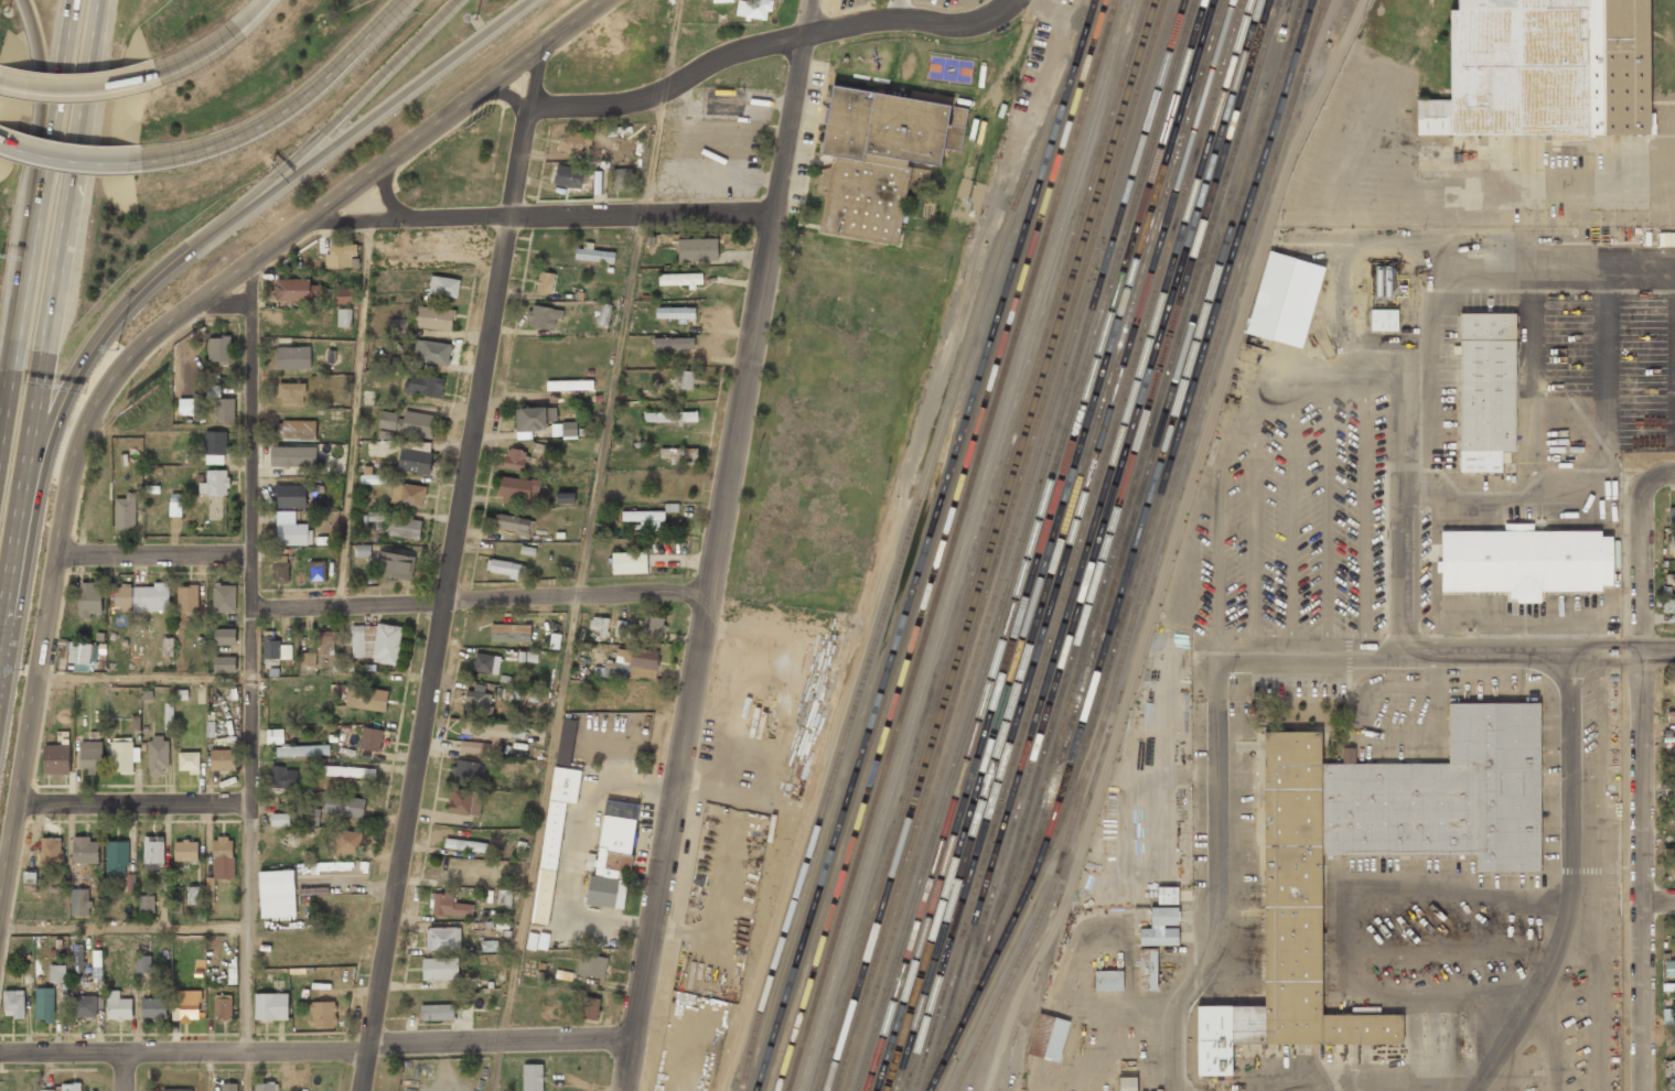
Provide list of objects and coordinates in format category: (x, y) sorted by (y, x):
building: (721, 0)
parking lot: (896, 4)
building: (754, 9)
road: (899, 9)
street lamp: (4, 11)
street lamp: (475, 19)
railway: (1319, 21)
road: (765, 42)
road: (217, 43)
road: (672, 44)
building: (1542, 68)
road: (79, 88)
road: (42, 96)
road: (56, 97)
road: (507, 97)
road: (287, 107)
railway: (1073, 111)
railway: (1082, 112)
road: (373, 117)
road: (337, 118)
building: (890, 127)
building: (573, 141)
road: (655, 151)
road: (68, 159)
road: (68, 175)
building: (570, 176)
building: (622, 179)
road: (384, 191)
building: (869, 195)
road: (589, 214)
road: (358, 216)
road: (278, 240)
building: (648, 240)
building: (697, 249)
building: (340, 255)
building: (594, 256)
building: (680, 279)
road: (250, 281)
building: (544, 281)
building: (1383, 281)
building: (443, 287)
building: (291, 290)
building: (578, 295)
building: (342, 300)
building: (1285, 300)
road: (223, 302)
building: (675, 313)
building: (603, 314)
building: (343, 317)
building: (433, 317)
building: (543, 317)
building: (1383, 320)
road: (20, 322)
building: (397, 327)
building: (673, 343)
building: (218, 349)
building: (432, 352)
building: (330, 356)
building: (292, 358)
road: (68, 380)
building: (684, 380)
building: (423, 385)
building: (569, 386)
building: (212, 390)
building: (1485, 390)
building: (291, 392)
road: (612, 404)
building: (192, 406)
road: (355, 409)
building: (224, 410)
building: (669, 415)
building: (387, 420)
building: (532, 420)
railway: (1182, 420)
building: (417, 424)
building: (297, 430)
building: (563, 430)
building: (385, 434)
building: (215, 446)
building: (678, 454)
building: (292, 456)
building: (124, 460)
building: (514, 460)
building: (414, 461)
road: (22, 465)
railway: (1137, 473)
road: (1650, 477)
building: (372, 478)
building: (214, 483)
building: (151, 489)
building: (516, 489)
railway: (1150, 490)
building: (407, 495)
building: (290, 496)
building: (565, 497)
building: (174, 505)
building: (670, 507)
building: (125, 512)
building: (376, 516)
building: (1671, 516)
building: (644, 518)
building: (515, 525)
building: (290, 528)
building: (404, 528)
building: (321, 540)
building: (1672, 540)
railway: (1020, 544)
railway: (1040, 544)
railway: (1050, 544)
railway: (1057, 544)
railway: (1069, 544)
railway: (1077, 544)
road: (721, 545)
railway: (924, 545)
railway: (962, 545)
railway: (971, 545)
railway: (981, 545)
railway: (990, 545)
railway: (1000, 545)
railway: (1009, 545)
railway: (1032, 545)
railway: (1087, 545)
railway: (1096, 545)
railway: (1105, 547)
building: (362, 550)
building: (526, 550)
road: (153, 551)
railway: (1153, 551)
building: (1525, 561)
building: (629, 562)
building: (394, 565)
road: (453, 566)
building: (506, 568)
building: (316, 571)
building: (279, 572)
building: (1669, 579)
road: (1, 591)
building: (122, 597)
building: (151, 597)
road: (483, 597)
building: (186, 598)
building: (223, 598)
building: (88, 599)
building: (1668, 605)
building: (599, 625)
building: (652, 627)
railway: (1099, 627)
building: (619, 628)
building: (509, 633)
building: (99, 636)
building: (223, 636)
building: (357, 640)
building: (554, 640)
building: (325, 642)
building: (386, 642)
building: (168, 647)
building: (275, 648)
road: (1658, 651)
road: (1572, 652)
building: (83, 655)
building: (509, 656)
building: (520, 656)
building: (532, 657)
railway: (909, 657)
railway: (917, 658)
building: (308, 659)
building: (486, 663)
building: (224, 665)
building: (630, 665)
building: (336, 667)
building: (368, 668)
building: (272, 672)
road: (251, 674)
road: (144, 678)
building: (504, 679)
building: (636, 692)
building: (233, 693)
building: (147, 694)
building: (182, 694)
building: (519, 694)
building: (365, 699)
building: (477, 703)
road: (1216, 704)
building: (168, 716)
building: (1671, 716)
building: (135, 723)
building: (228, 726)
building: (210, 730)
building: (485, 730)
building: (275, 736)
building: (372, 738)
building: (224, 739)
road: (30, 747)
building: (476, 747)
building: (301, 750)
building: (90, 756)
building: (157, 756)
building: (1674, 756)
building: (122, 757)
building: (55, 759)
building: (222, 759)
building: (189, 761)
building: (347, 771)
building: (466, 771)
building: (281, 778)
building: (1673, 792)
road: (1643, 796)
building: (463, 801)
road: (136, 802)
building: (343, 807)
building: (309, 815)
road: (540, 818)
building: (279, 819)
building: (556, 821)
railway: (1061, 821)
building: (347, 842)
building: (465, 845)
building: (85, 851)
building: (185, 851)
building: (49, 853)
building: (153, 853)
building: (116, 857)
building: (222, 857)
building: (611, 857)
building: (1674, 864)
building: (332, 867)
building: (164, 881)
building: (30, 882)
building: (130, 883)
road: (1571, 886)
building: (210, 890)
building: (277, 894)
building: (1167, 895)
building: (194, 896)
building: (506, 896)
road: (1660, 897)
building: (79, 901)
building: (146, 905)
building: (449, 906)
building: (200, 917)
building: (1160, 928)
road: (125, 930)
building: (444, 938)
building: (1291, 938)
building: (543, 940)
building: (532, 941)
building: (58, 943)
building: (488, 946)
building: (52, 952)
building: (214, 954)
building: (77, 958)
building: (142, 963)
building: (96, 965)
building: (590, 965)
building: (440, 969)
building: (1669, 969)
building: (1147, 970)
building: (56, 973)
building: (197, 973)
building: (562, 974)
building: (232, 975)
building: (76, 977)
building: (1108, 980)
building: (320, 985)
building: (64, 986)
building: (14, 1003)
building: (99, 1003)
building: (44, 1004)
building: (83, 1006)
building: (118, 1006)
building: (185, 1006)
building: (270, 1006)
building: (588, 1007)
building: (153, 1008)
building: (223, 1008)
building: (437, 1012)
building: (322, 1014)
building: (1048, 1037)
road: (318, 1047)
road: (498, 1066)
road: (246, 1070)
road: (125, 1071)
building: (1669, 1073)
building: (532, 1077)
building: (1127, 1083)
building: (71, 1087)
building: (264, 1087)
building: (228, 1088)
building: (46, 1090)
building: (176, 1090)

